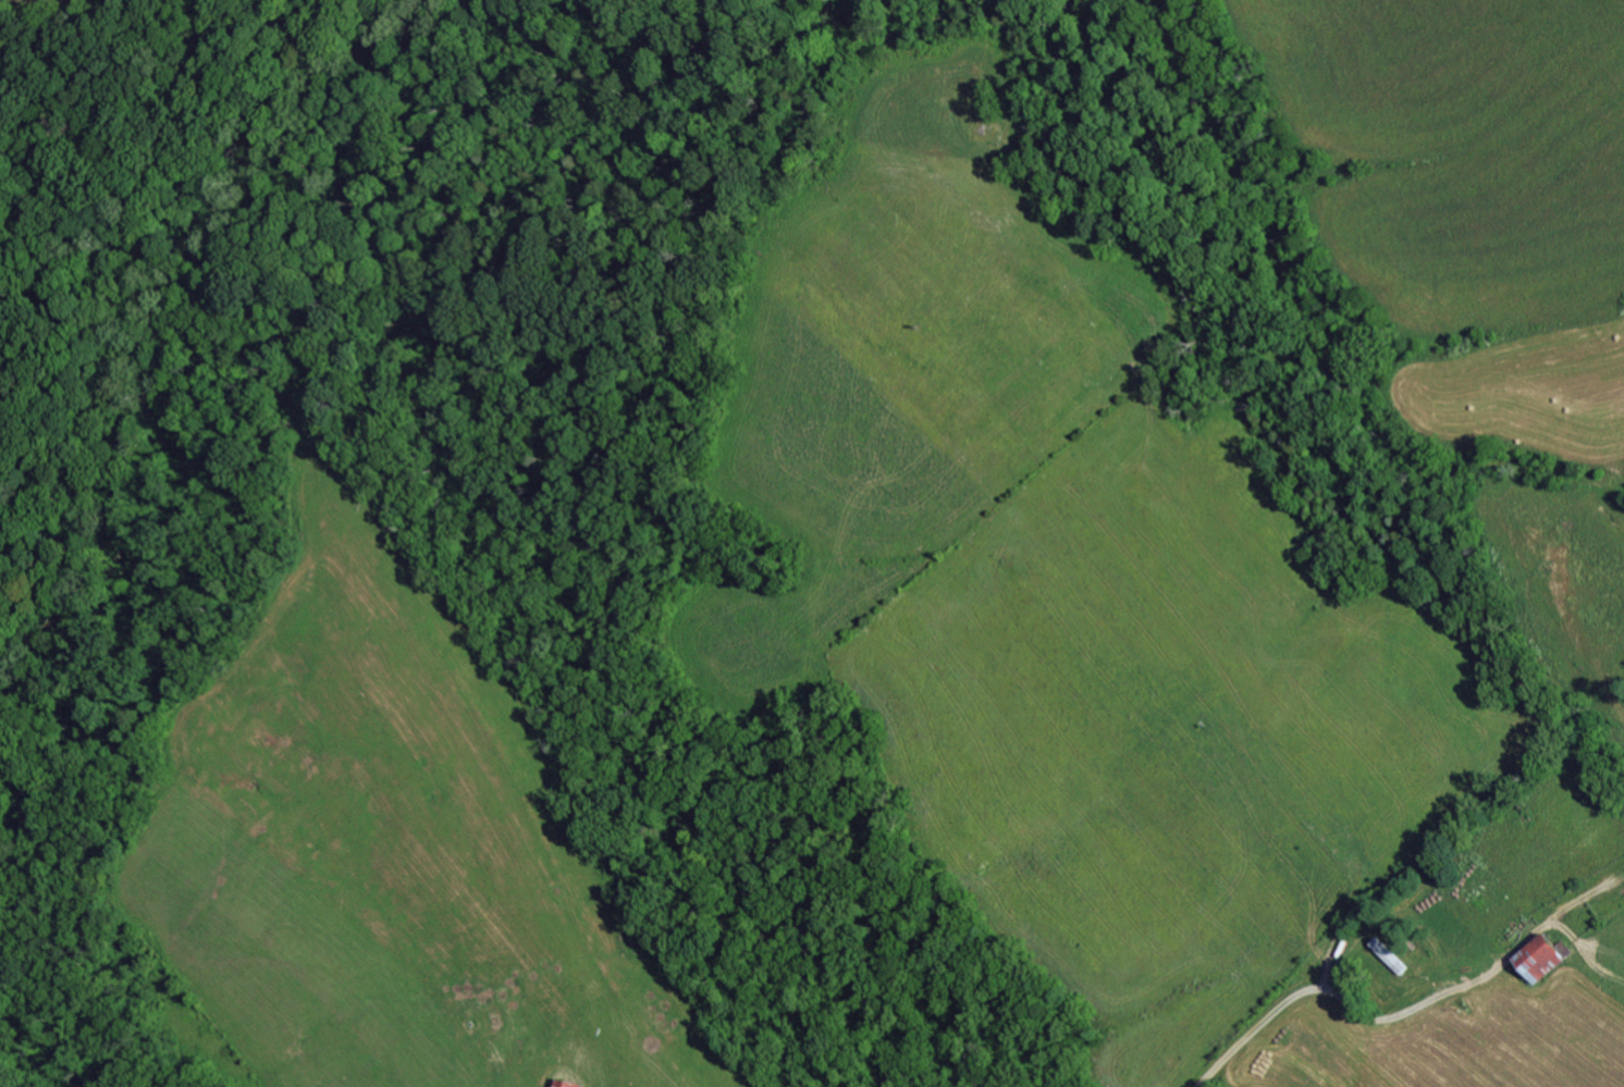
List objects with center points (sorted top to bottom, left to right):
building: (1538, 955)
road: (1226, 1026)
road: (882, 1073)
building: (567, 1083)

